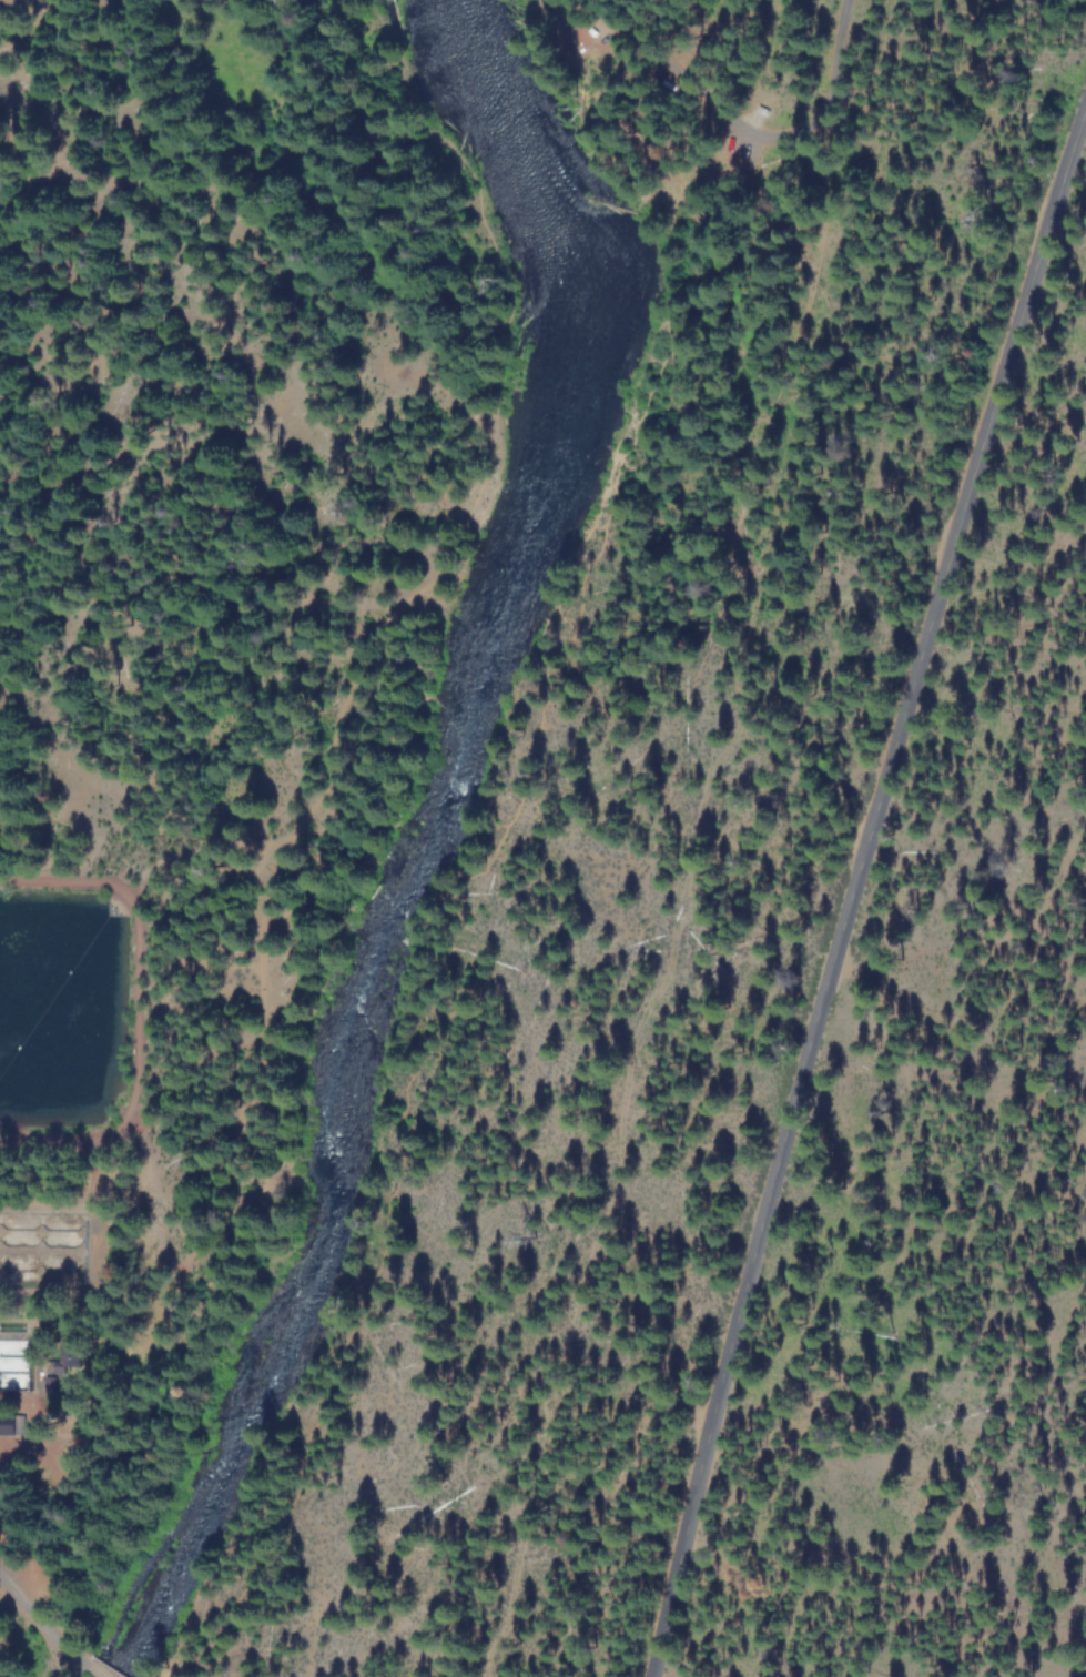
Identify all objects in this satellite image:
road: (743, 110)
road: (311, 791)
river: (424, 834)
road: (496, 843)
road: (855, 897)
aquafarm: (70, 1142)
road: (47, 1630)
road: (98, 1675)

